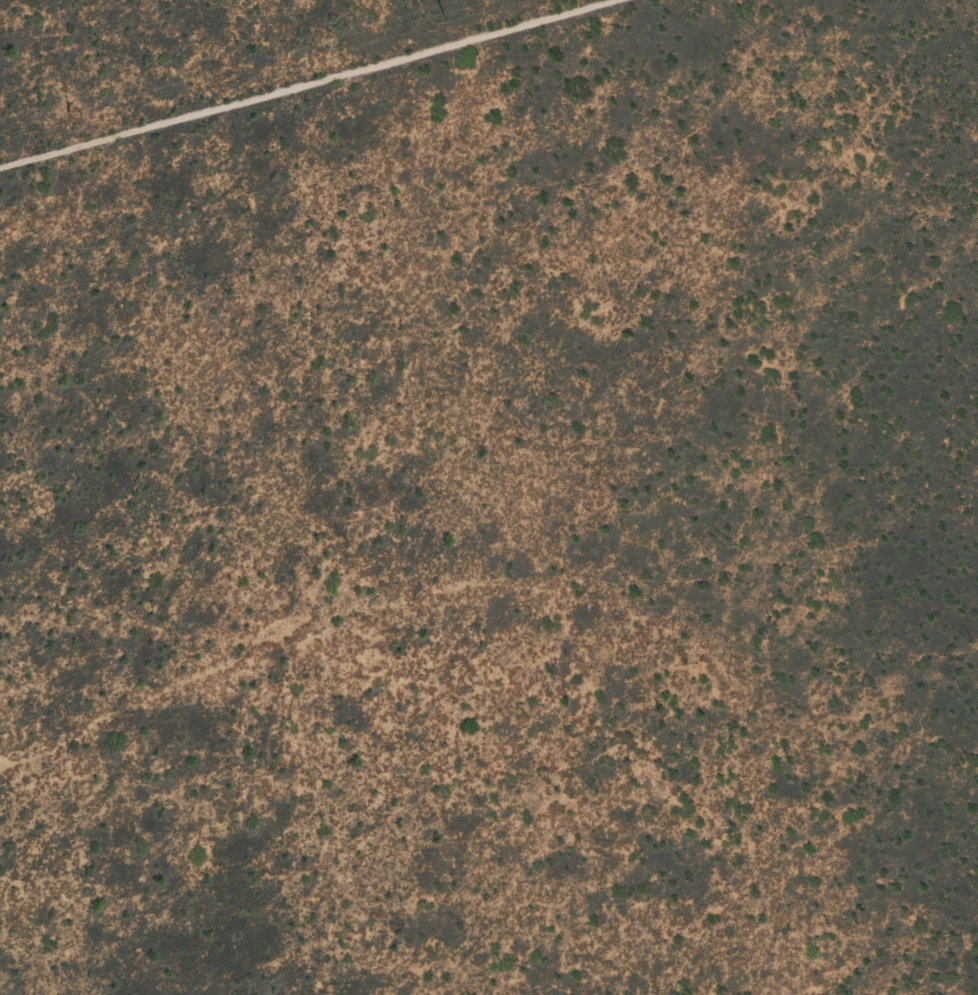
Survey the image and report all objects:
power tower: (443, 16)
power tower: (66, 120)

